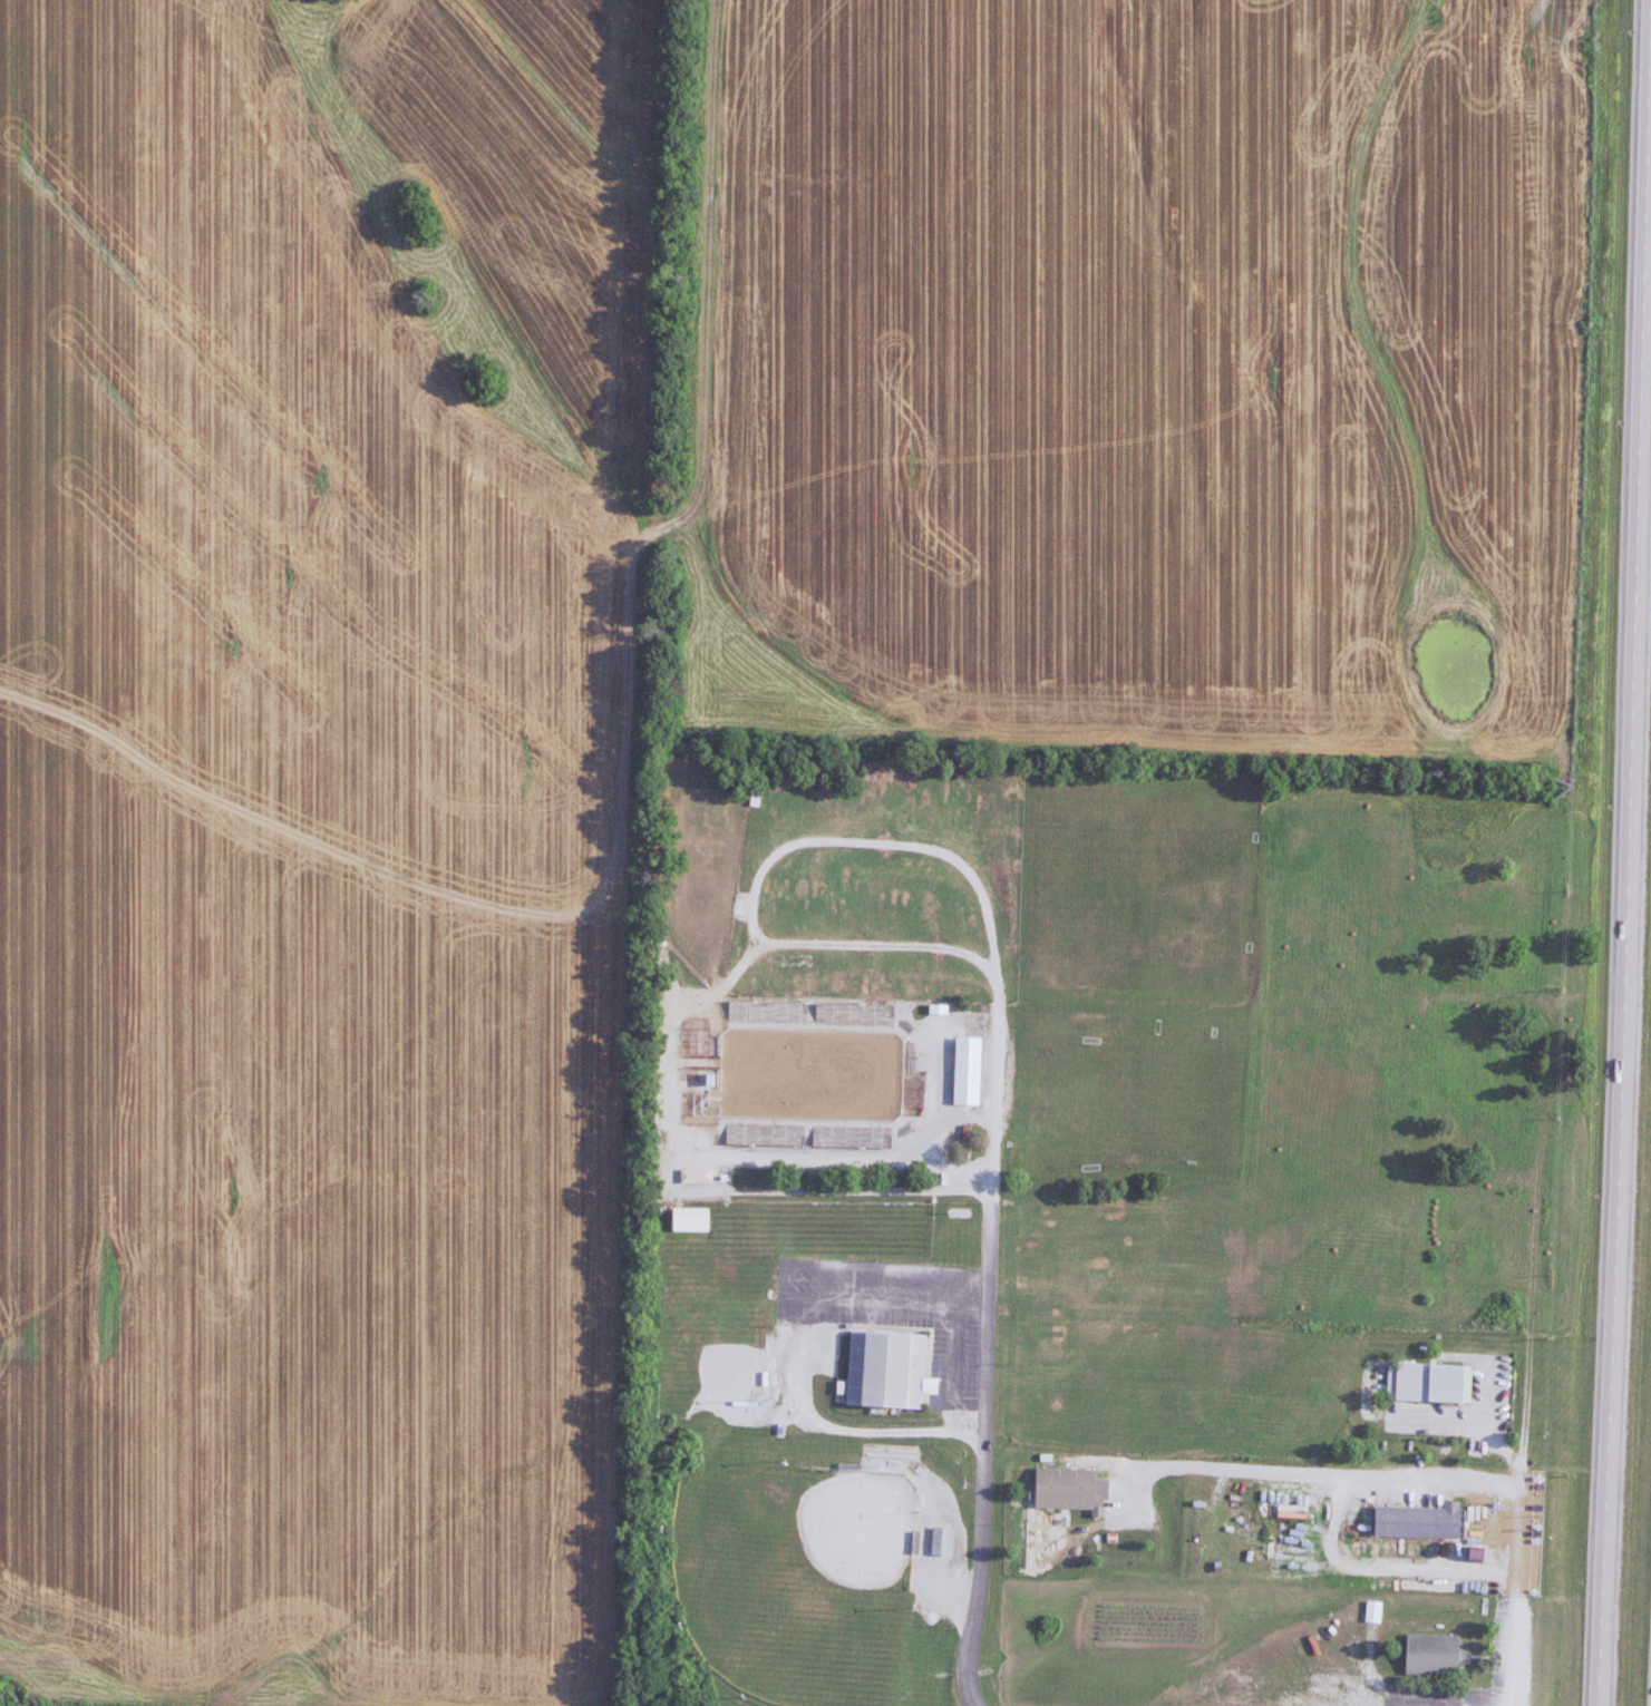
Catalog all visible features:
building: (752, 799)
road: (1620, 858)
road: (763, 864)
building: (880, 1015)
building: (963, 1071)
stadium: (808, 1072)
building: (692, 1176)
building: (686, 1219)
parking lot: (894, 1307)
road: (988, 1339)
park: (705, 1353)
building: (881, 1366)
building: (1428, 1383)
road: (904, 1430)
road: (1315, 1472)
building: (1062, 1490)
building: (1415, 1522)
building: (938, 1542)
park: (797, 1586)
road: (1506, 1596)
building: (1371, 1612)
building: (1429, 1655)

